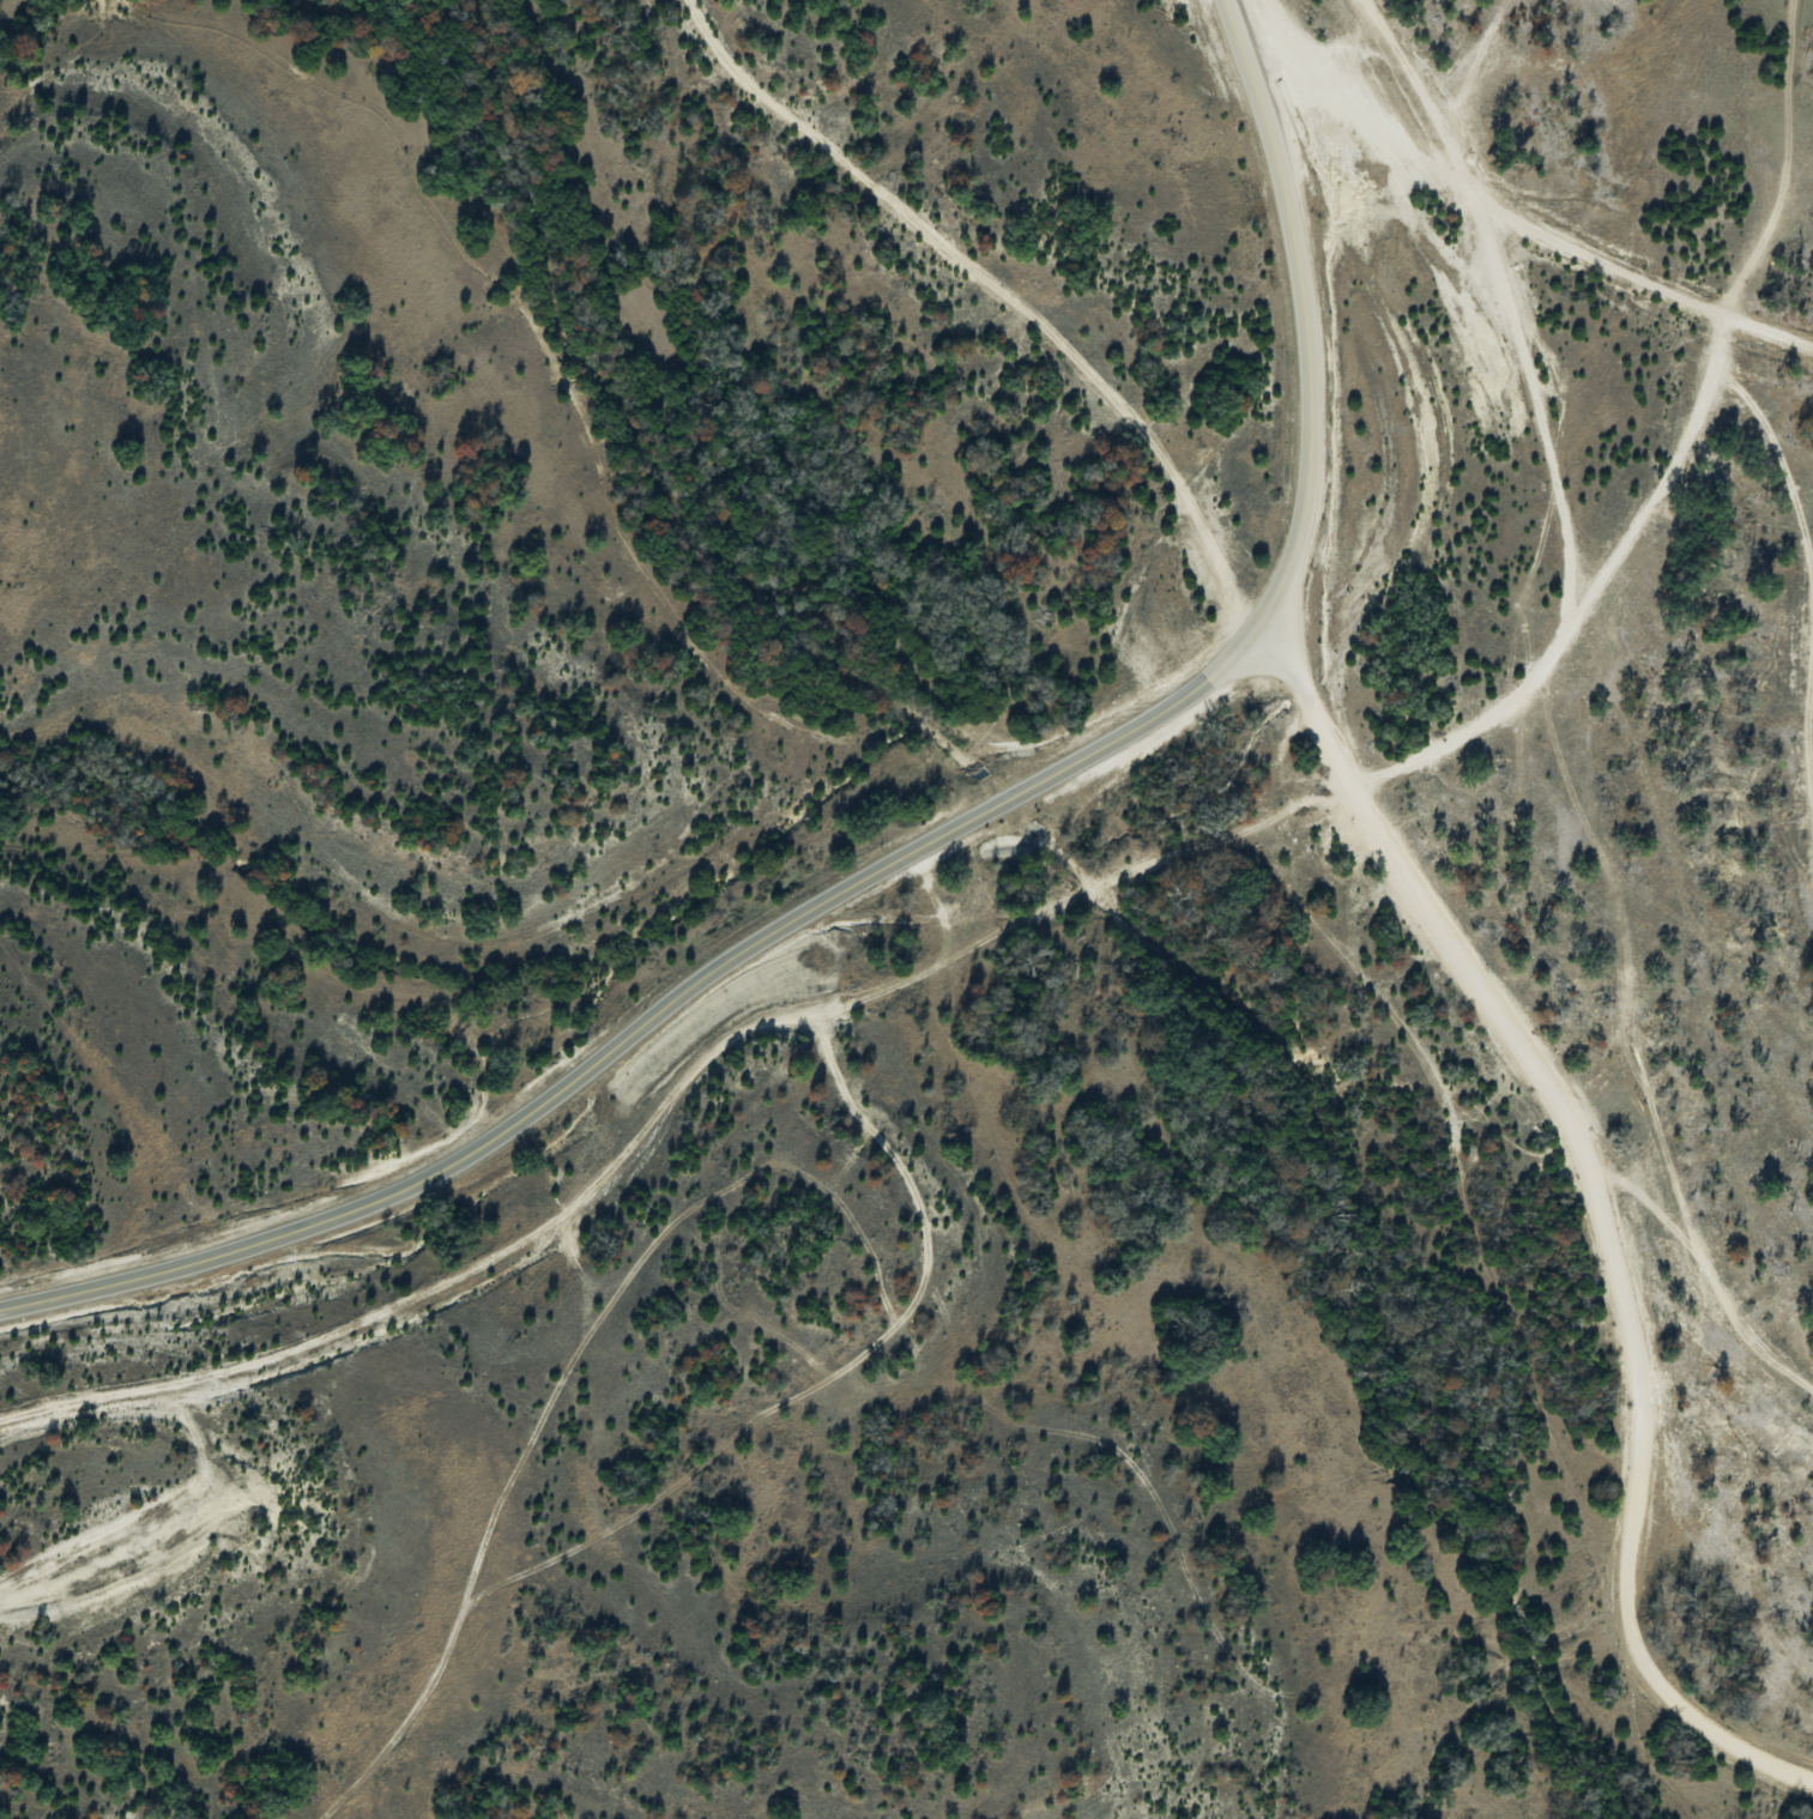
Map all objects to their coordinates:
road: (997, 288)
road: (1306, 307)
road: (659, 1017)
road: (1602, 1198)

